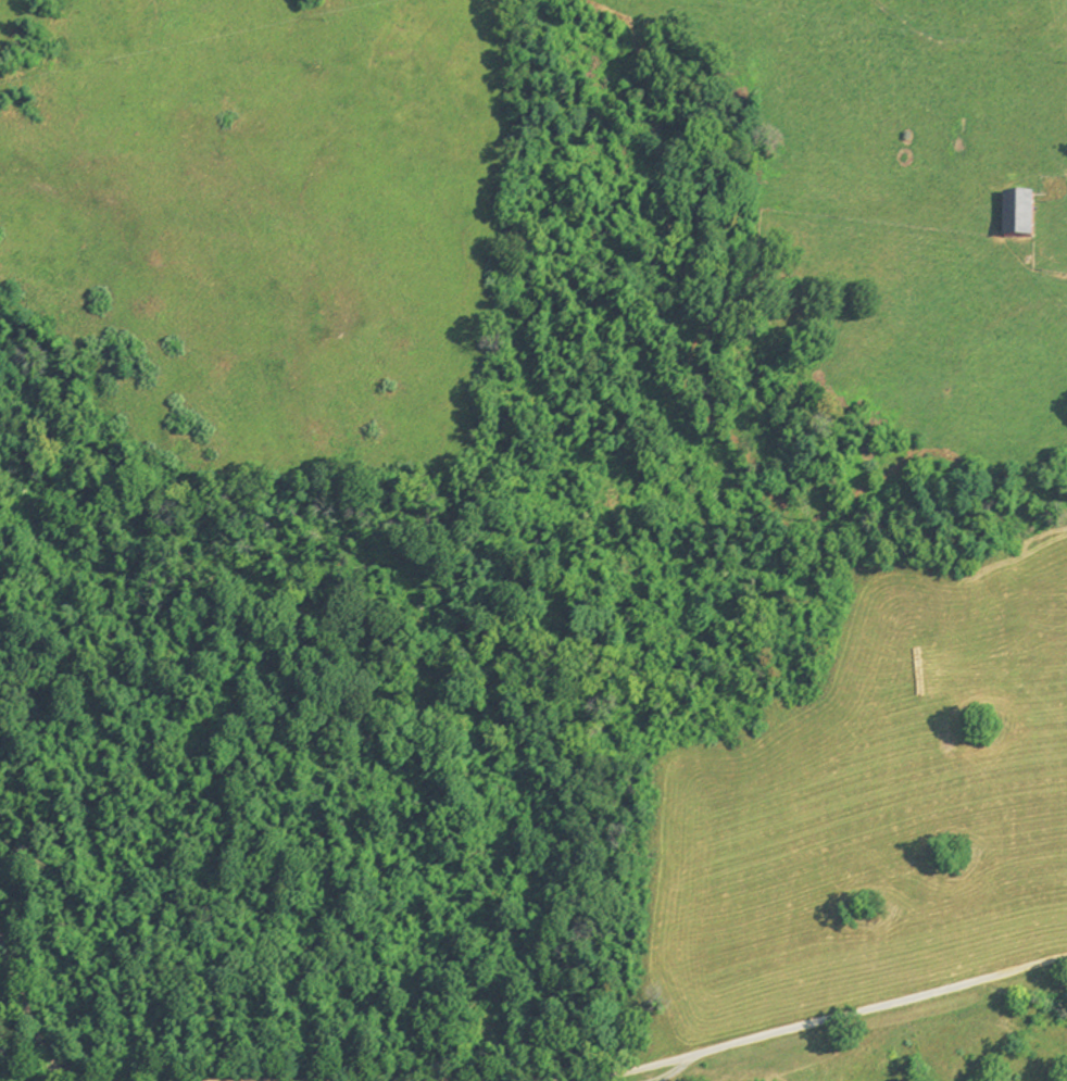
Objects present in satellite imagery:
building: (1019, 214)
road: (26, 1018)
road: (827, 1025)
road: (674, 1073)

